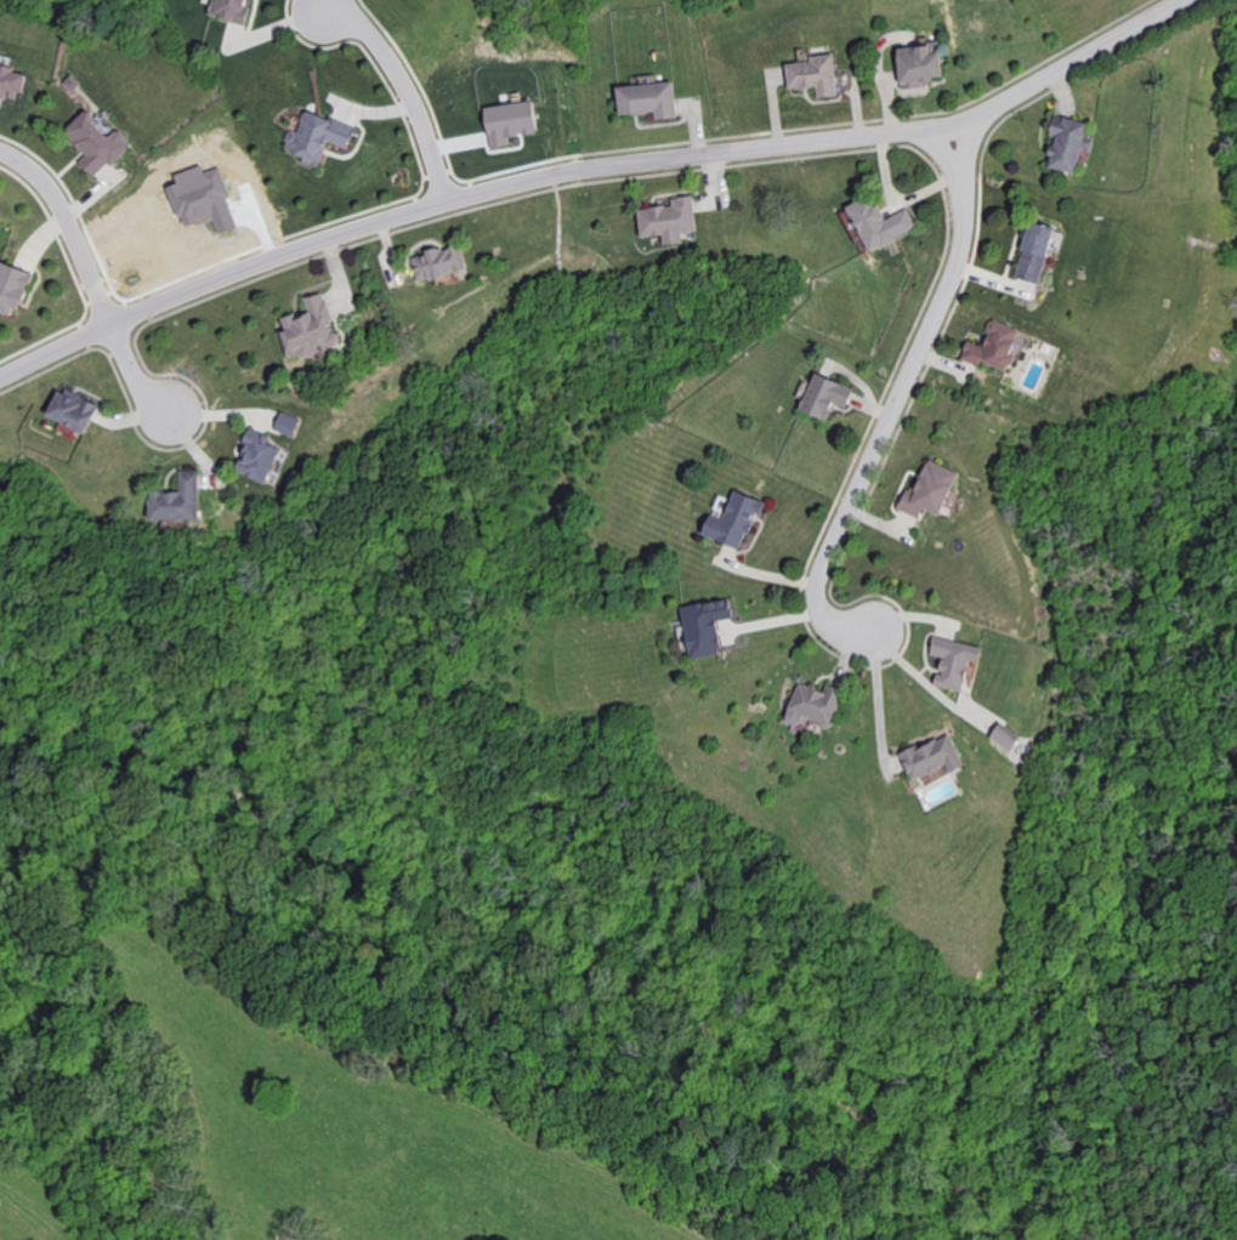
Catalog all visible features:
building: (228, 10)
building: (919, 64)
building: (815, 74)
building: (11, 83)
road: (408, 91)
building: (648, 98)
road: (980, 118)
building: (510, 121)
building: (317, 136)
building: (1066, 142)
building: (96, 143)
road: (595, 170)
building: (669, 220)
building: (879, 223)
road: (66, 231)
building: (1034, 251)
road: (276, 260)
building: (439, 262)
building: (11, 288)
building: (310, 328)
building: (993, 346)
road: (55, 353)
road: (136, 372)
building: (825, 397)
road: (898, 402)
building: (70, 410)
building: (288, 423)
building: (257, 455)
building: (930, 490)
building: (177, 500)
building: (733, 521)
road: (380, 561)
building: (704, 626)
building: (954, 661)
building: (812, 706)
building: (1006, 736)
building: (932, 757)

